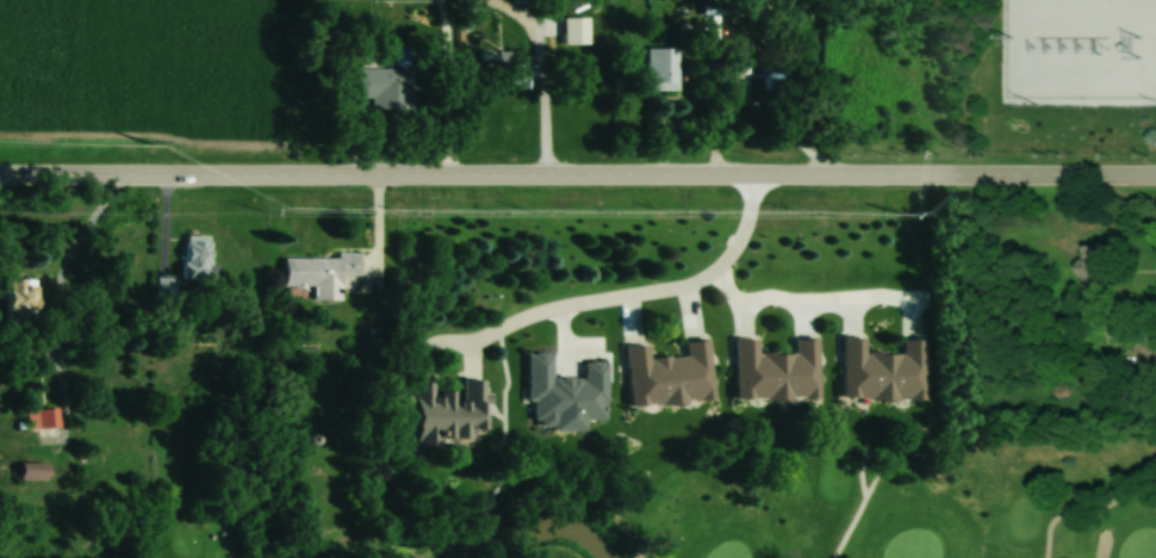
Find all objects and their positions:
building: (520, 1)
building: (710, 7)
building: (660, 68)
building: (520, 75)
road: (533, 76)
building: (380, 89)
road: (778, 131)
road: (578, 179)
building: (194, 258)
building: (1093, 267)
building: (318, 274)
building: (19, 296)
road: (620, 298)
road: (52, 306)
building: (776, 372)
building: (880, 372)
building: (669, 376)
building: (448, 414)
building: (37, 420)
road: (871, 433)
building: (31, 472)
road: (1083, 497)
park: (720, 500)
road: (462, 521)
road: (856, 522)
road: (632, 554)

